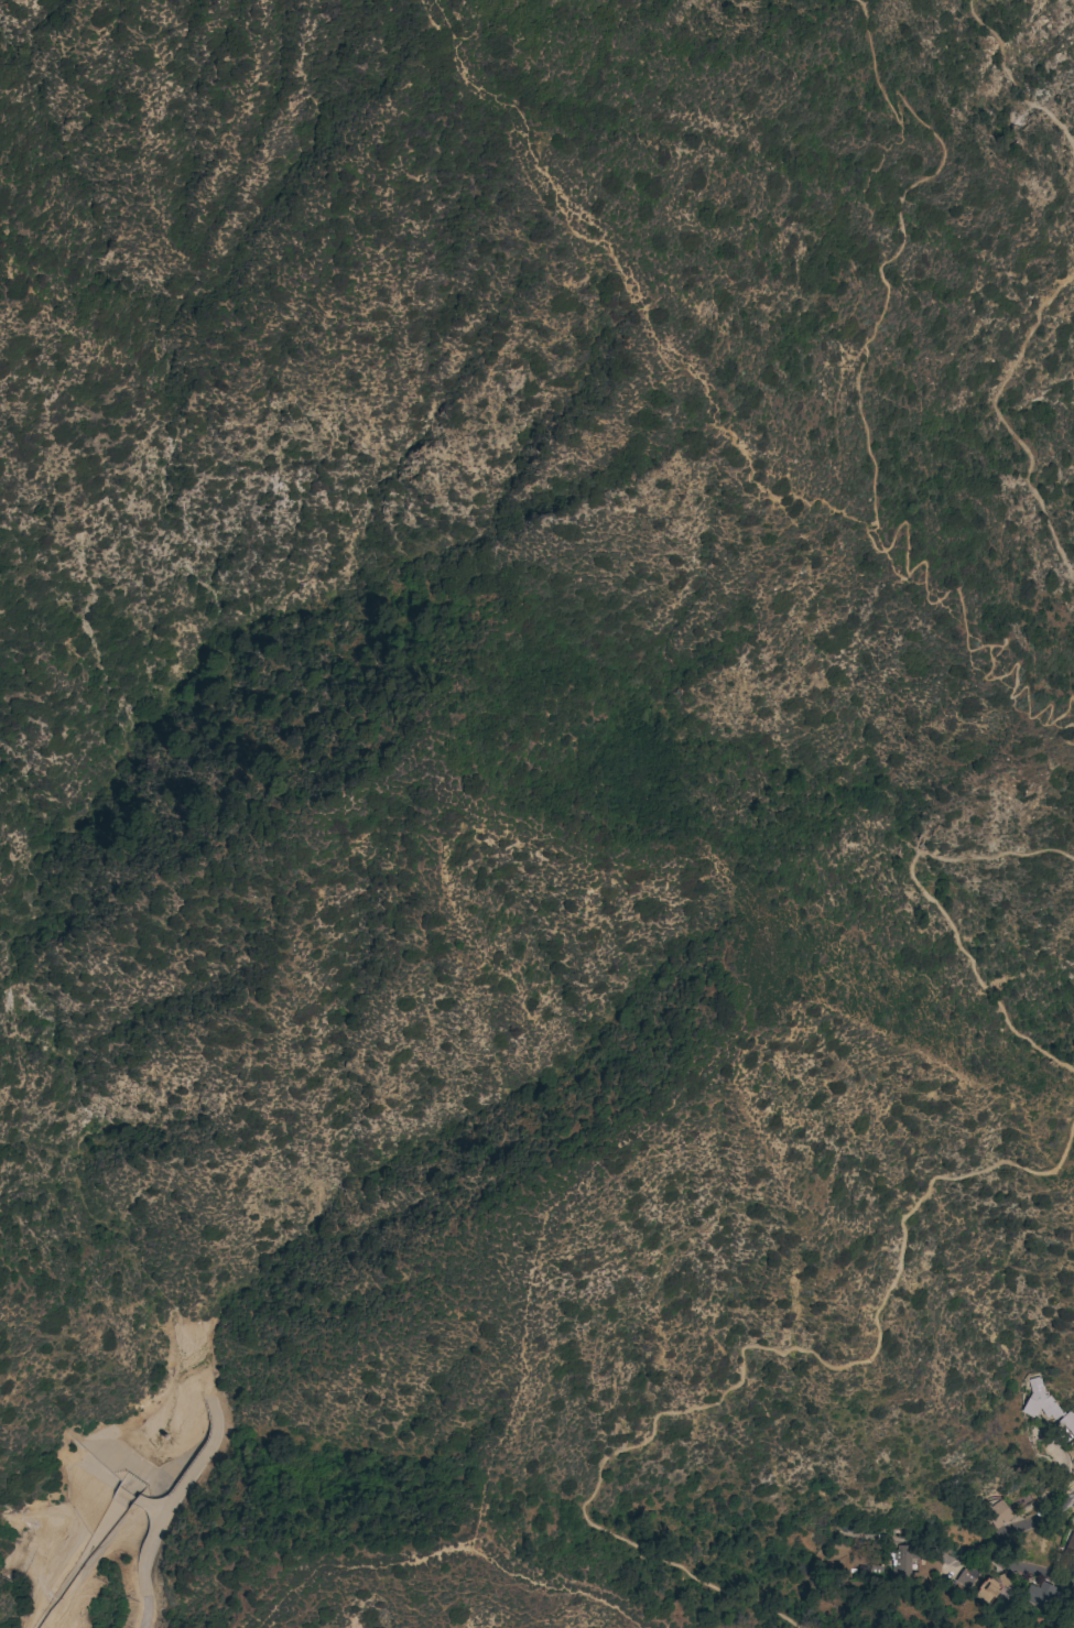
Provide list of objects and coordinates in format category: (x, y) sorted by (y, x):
road: (1008, 87)
road: (574, 203)
road: (999, 424)
road: (902, 582)
road: (932, 908)
road: (751, 1348)
building: (1045, 1405)
building: (1073, 1462)
road: (162, 1500)
building: (1005, 1510)
road: (1029, 1522)
building: (1070, 1548)
building: (903, 1563)
road: (1032, 1571)
building: (966, 1577)
building: (986, 1592)
building: (1039, 1595)
road: (821, 1626)
building: (1072, 1627)

